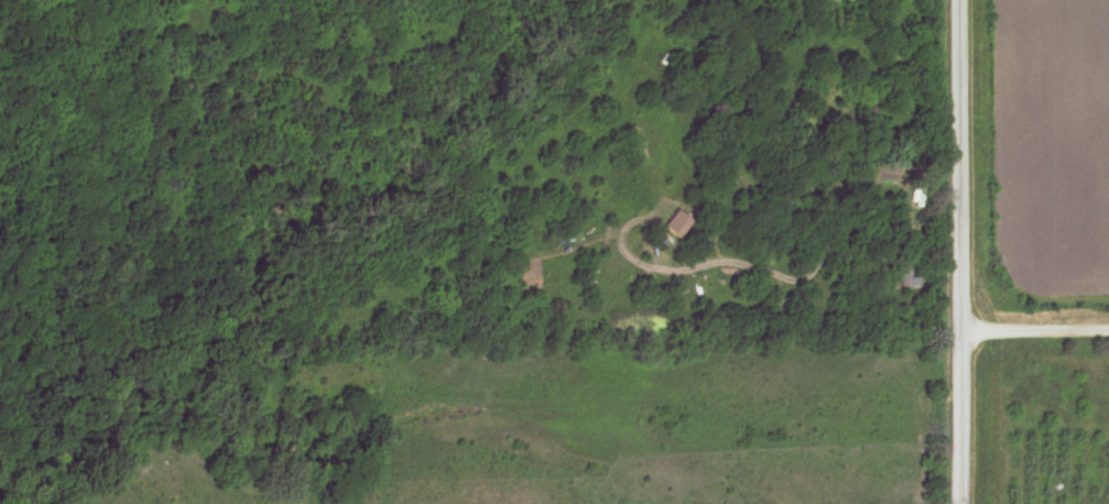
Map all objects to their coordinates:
road: (958, 251)
road: (1033, 327)

